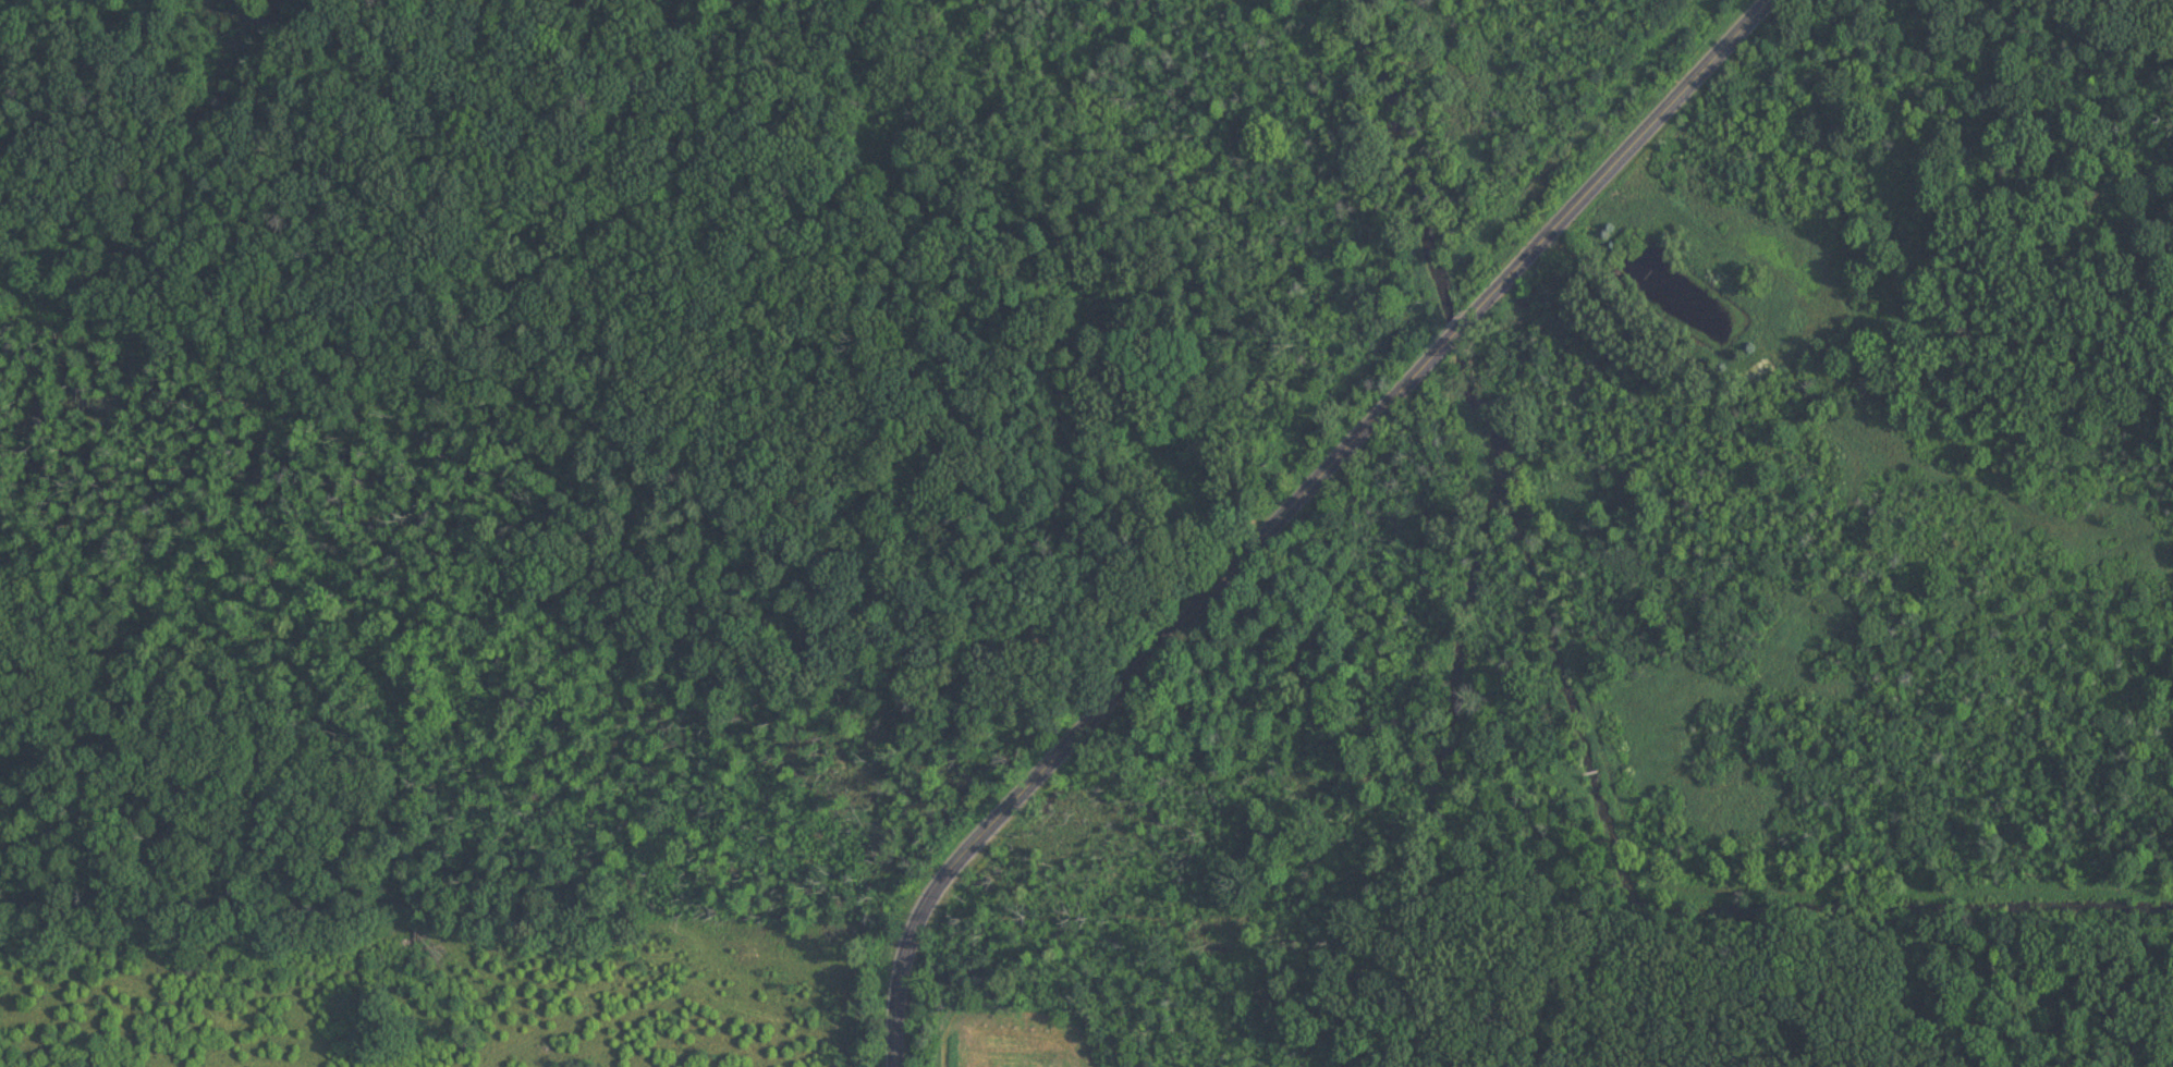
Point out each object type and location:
road: (1140, 409)
road: (1294, 511)

